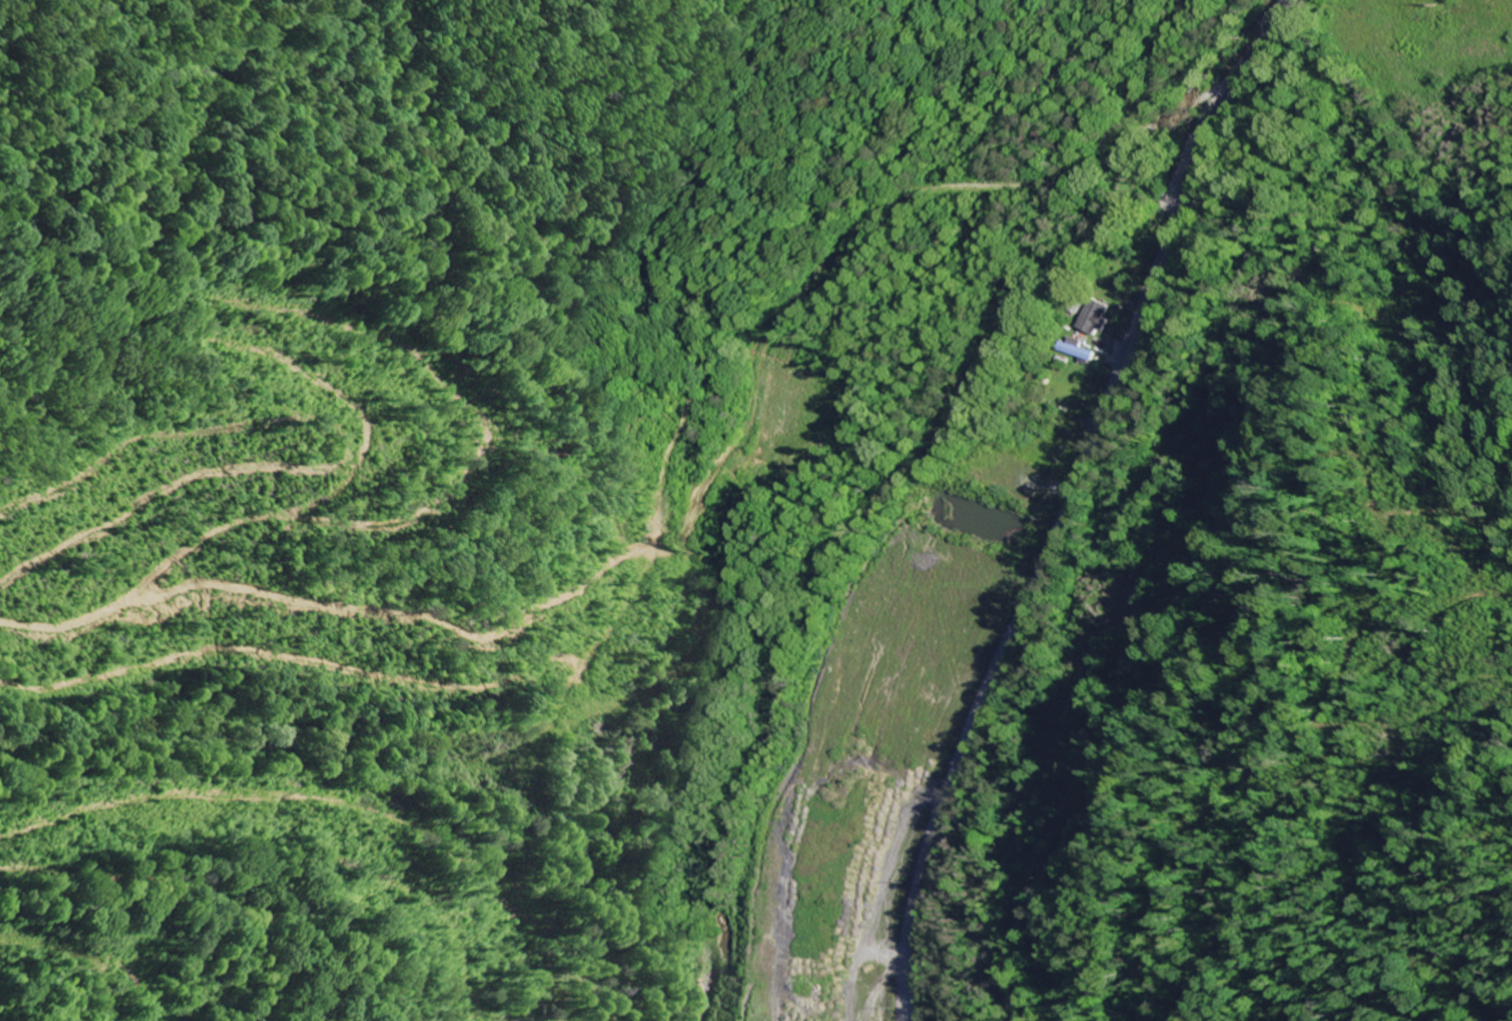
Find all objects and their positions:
road: (1221, 101)
building: (1094, 317)
building: (1074, 348)

